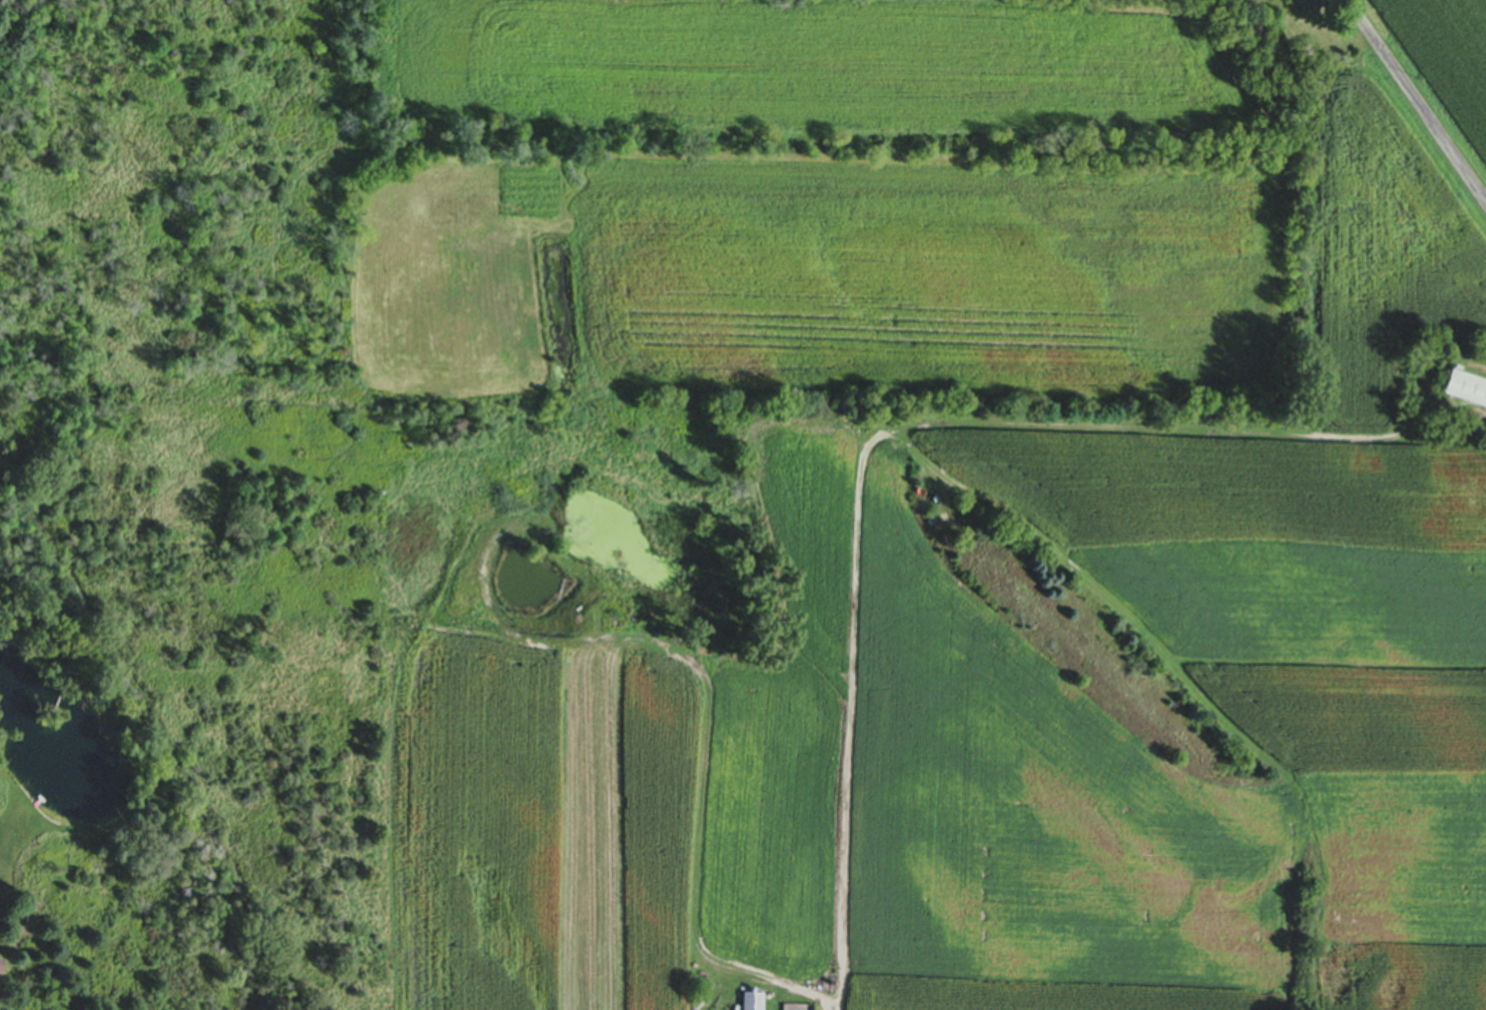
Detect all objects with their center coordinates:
building: (1287, 1)
building: (1303, 53)
road: (1416, 101)
building: (1464, 388)
building: (0, 962)
building: (750, 1001)
building: (798, 1007)

